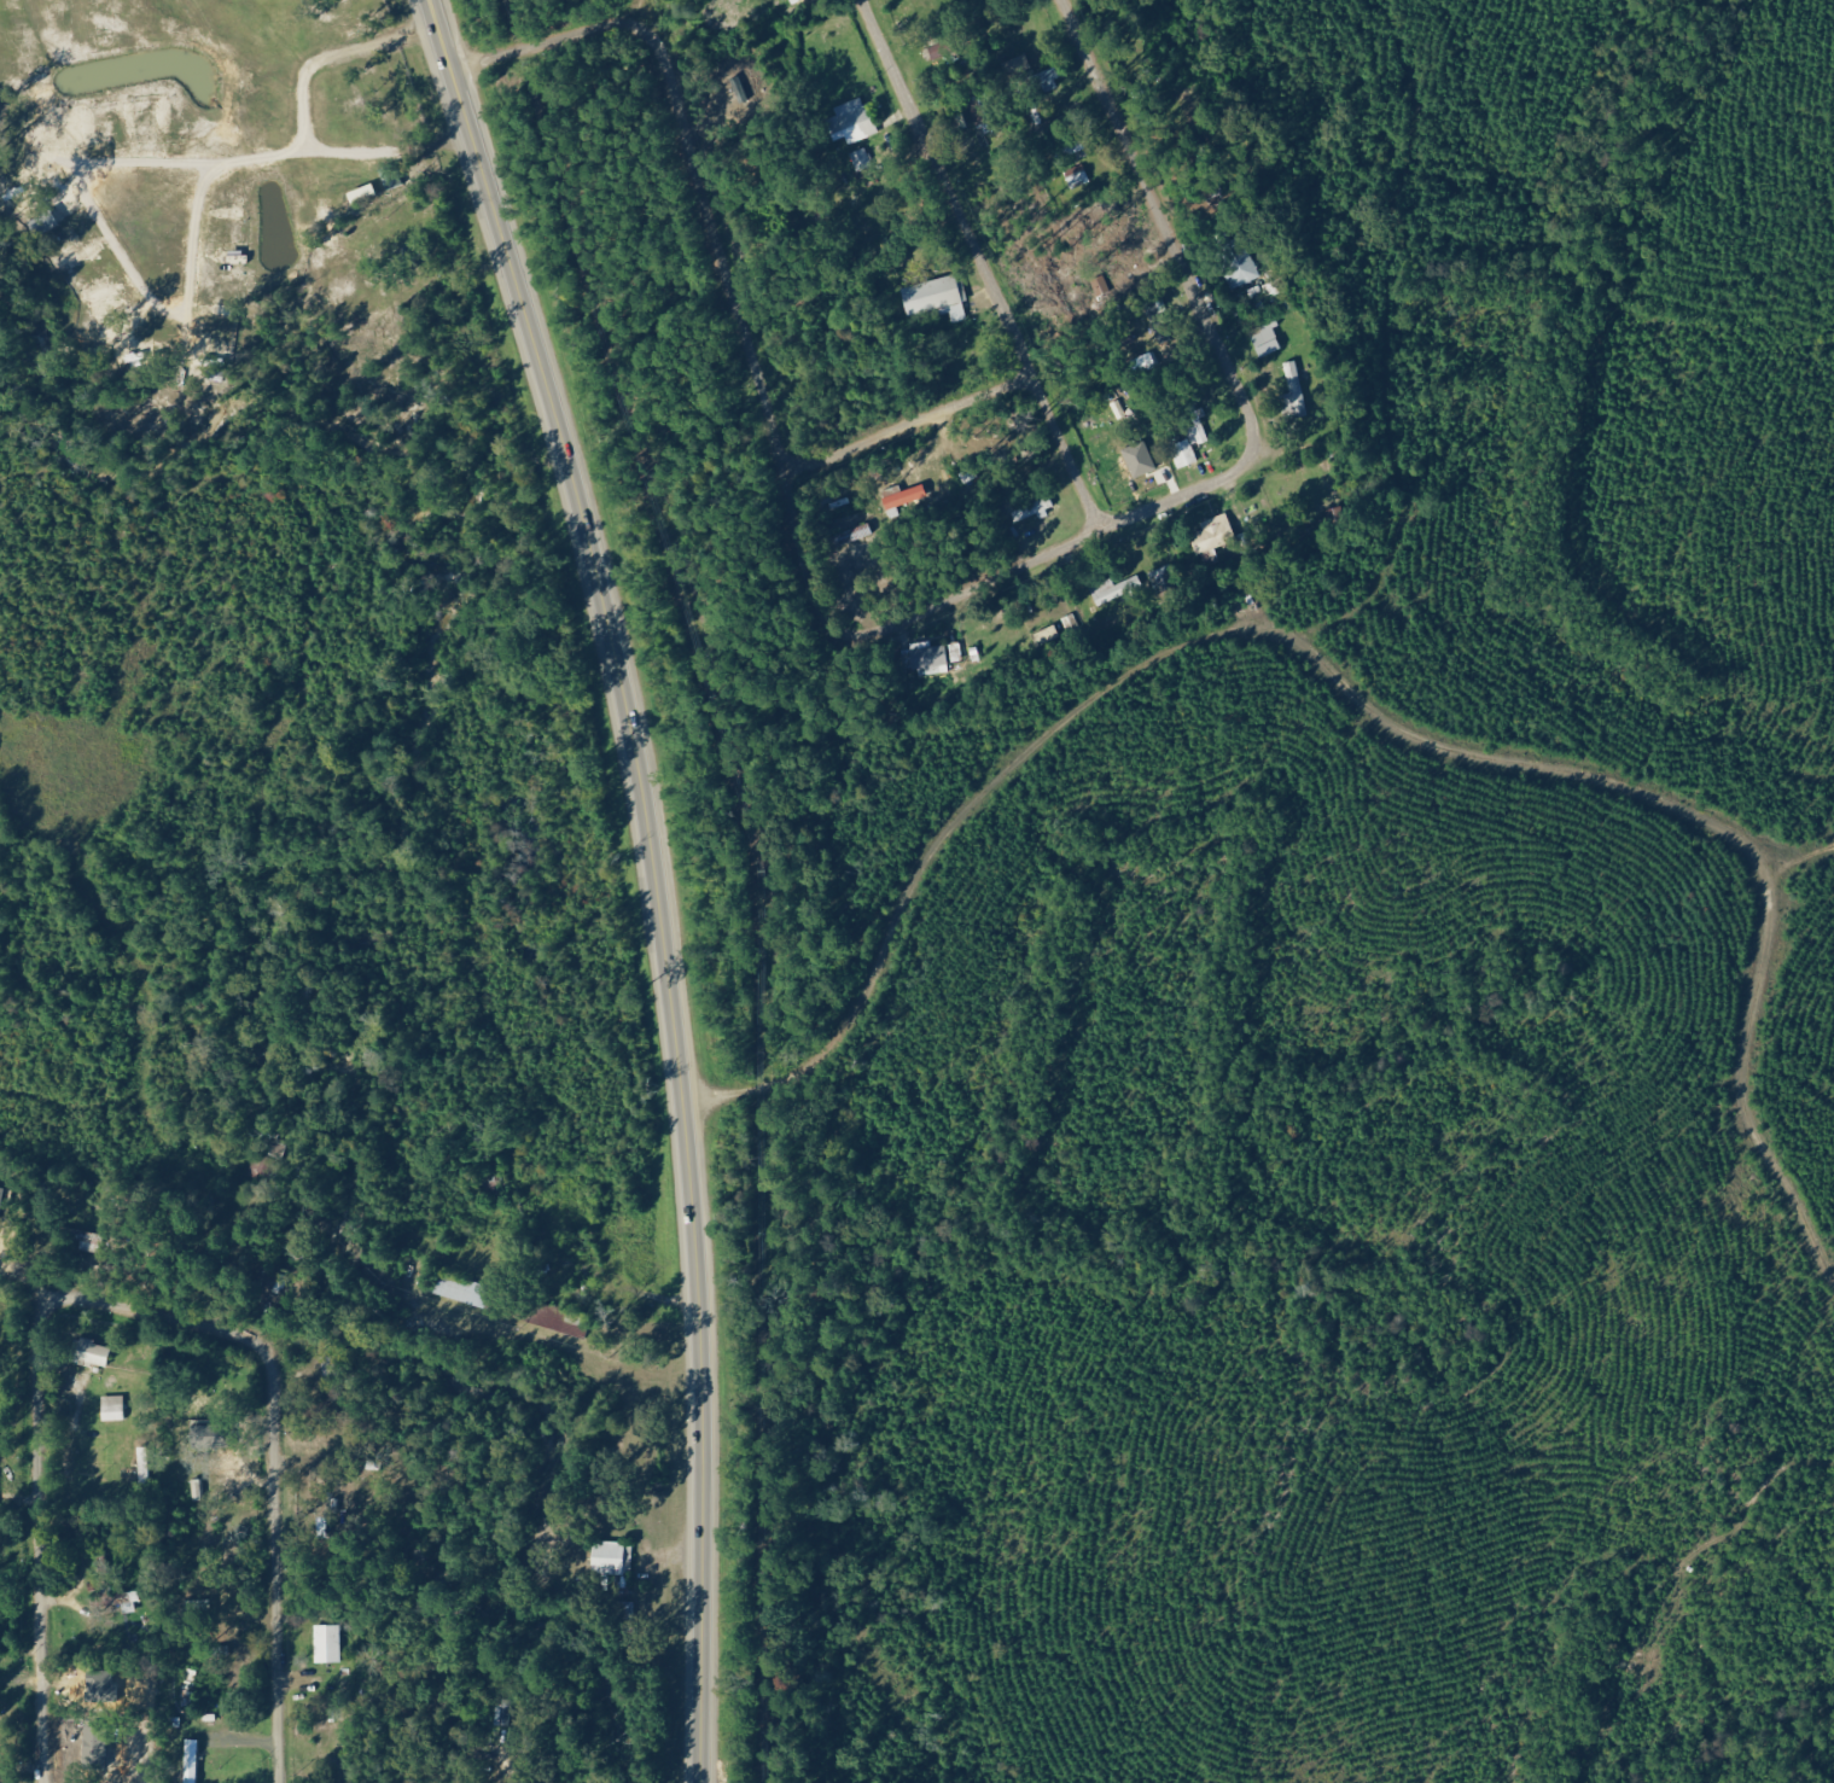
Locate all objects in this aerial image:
building: (797, 1)
road: (609, 8)
road: (528, 37)
building: (855, 122)
building: (863, 159)
building: (392, 176)
building: (365, 194)
road: (1130, 220)
road: (947, 254)
road: (508, 266)
building: (1242, 272)
building: (939, 297)
road: (716, 303)
building: (1298, 408)
road: (872, 424)
building: (1190, 436)
building: (1142, 474)
building: (1213, 535)
road: (1006, 544)
building: (1117, 589)
building: (931, 658)
road: (688, 1153)
building: (1, 1202)
building: (87, 1239)
building: (462, 1288)
road: (134, 1307)
building: (92, 1352)
building: (115, 1408)
building: (199, 1490)
building: (611, 1557)
building: (128, 1601)
building: (328, 1644)

